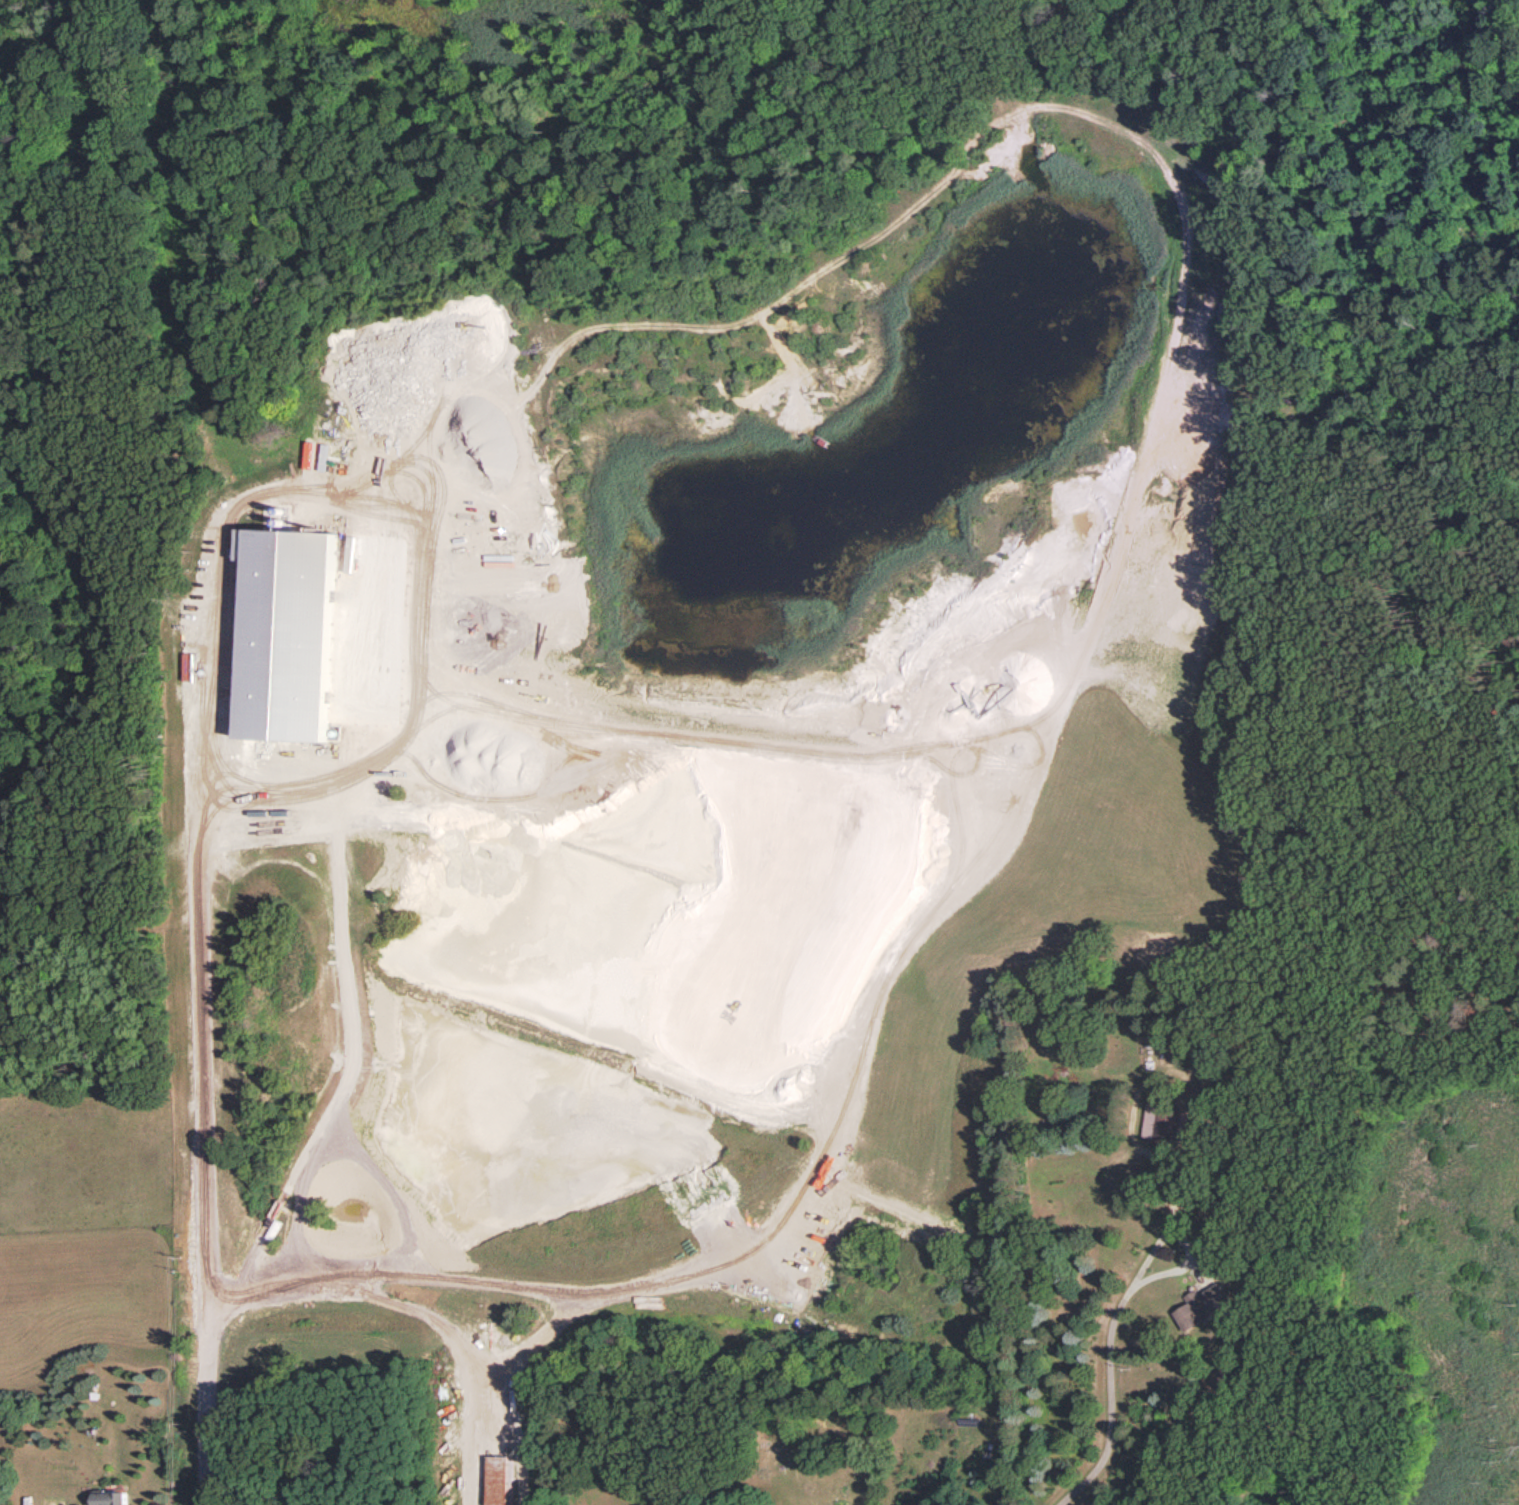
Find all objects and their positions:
road: (214, 586)
building: (279, 631)
road: (350, 717)
quarry: (567, 860)
building: (1166, 1122)
road: (201, 1164)
road: (1180, 1239)
building: (1202, 1305)
road: (1109, 1400)
building: (496, 1481)
building: (109, 1497)

